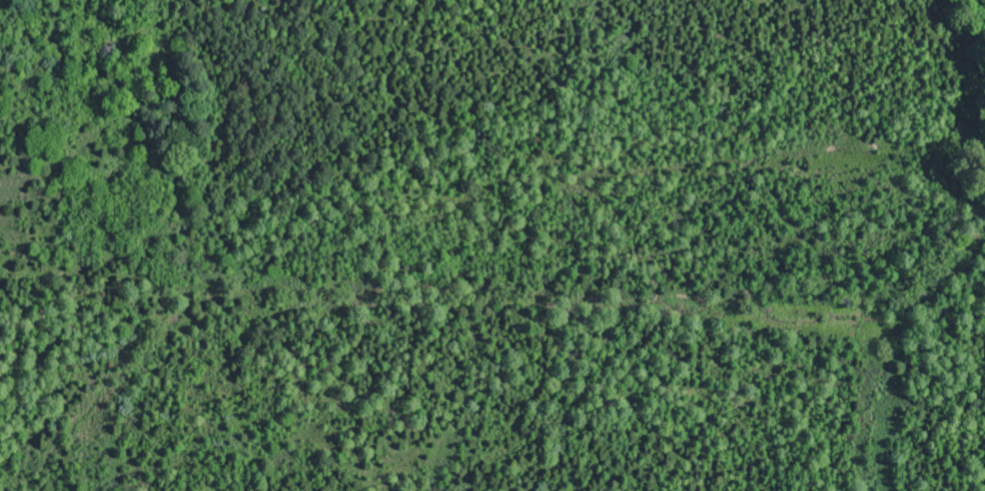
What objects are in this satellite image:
road: (176, 246)

